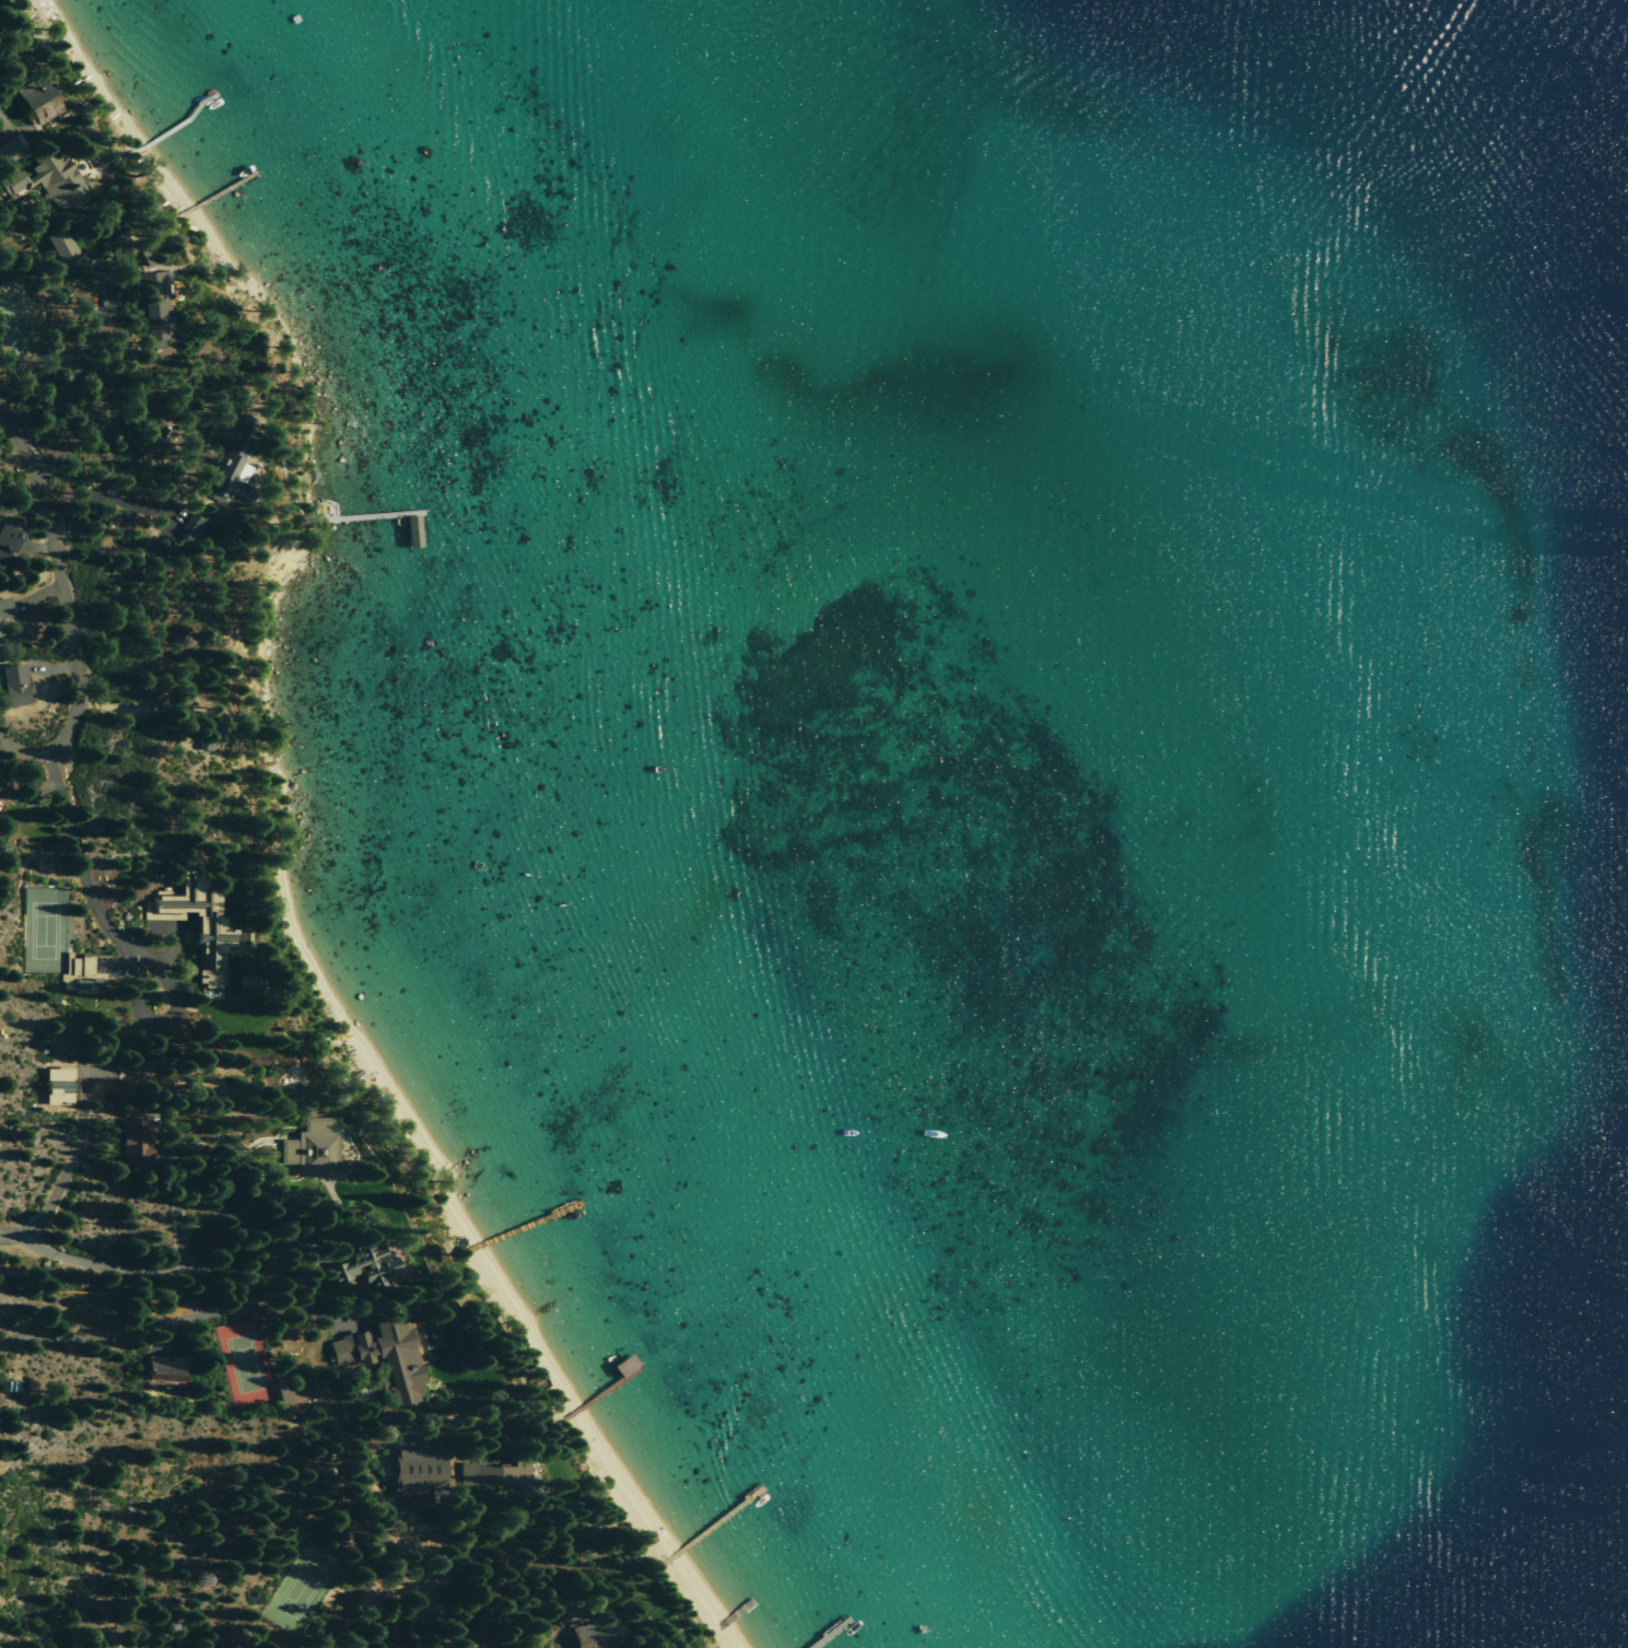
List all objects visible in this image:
building: (37, 100)
pier: (178, 122)
road: (3, 127)
building: (7, 153)
building: (46, 178)
pier: (216, 192)
building: (122, 242)
building: (58, 243)
building: (154, 305)
road: (81, 342)
building: (232, 461)
road: (177, 495)
pier: (368, 514)
building: (188, 528)
pier: (409, 529)
building: (5, 544)
road: (62, 607)
building: (3, 608)
building: (0, 634)
building: (13, 686)
building: (204, 736)
road: (48, 767)
road: (79, 869)
building: (56, 1085)
building: (133, 1143)
building: (312, 1146)
road: (66, 1169)
road: (176, 1208)
pier: (518, 1226)
road: (250, 1249)
road: (86, 1263)
road: (171, 1322)
building: (382, 1357)
building: (162, 1368)
pier: (595, 1391)
building: (417, 1464)
building: (494, 1473)
pier: (713, 1524)
road: (354, 1592)
pier: (735, 1613)
pier: (828, 1634)
building: (594, 1635)

